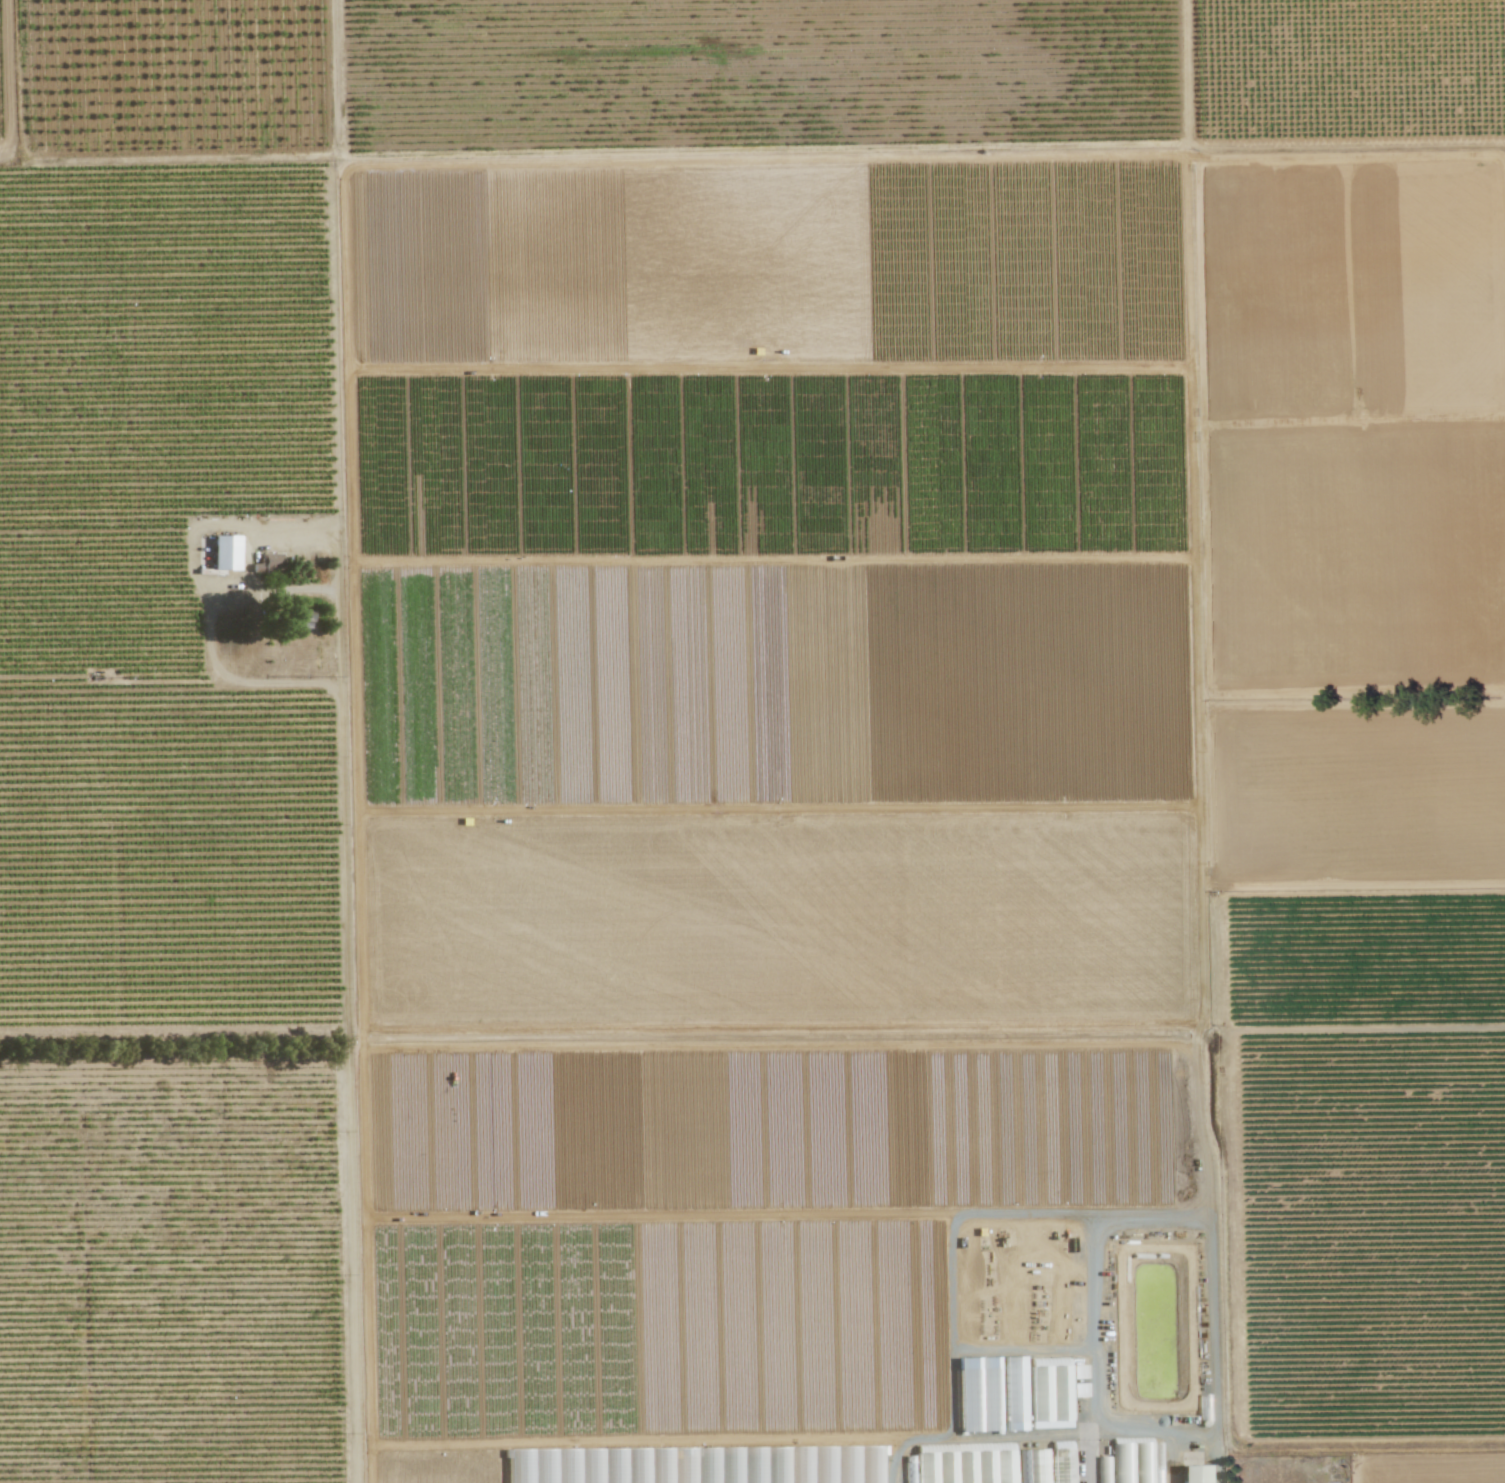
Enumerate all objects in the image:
building: (225, 553)
building: (271, 562)
building: (301, 620)
road: (238, 638)
road: (345, 741)
building: (1014, 1393)
building: (979, 1395)
building: (1052, 1397)
road: (1081, 1446)
building: (1062, 1462)
building: (1033, 1466)
building: (958, 1467)
building: (1194, 1474)

